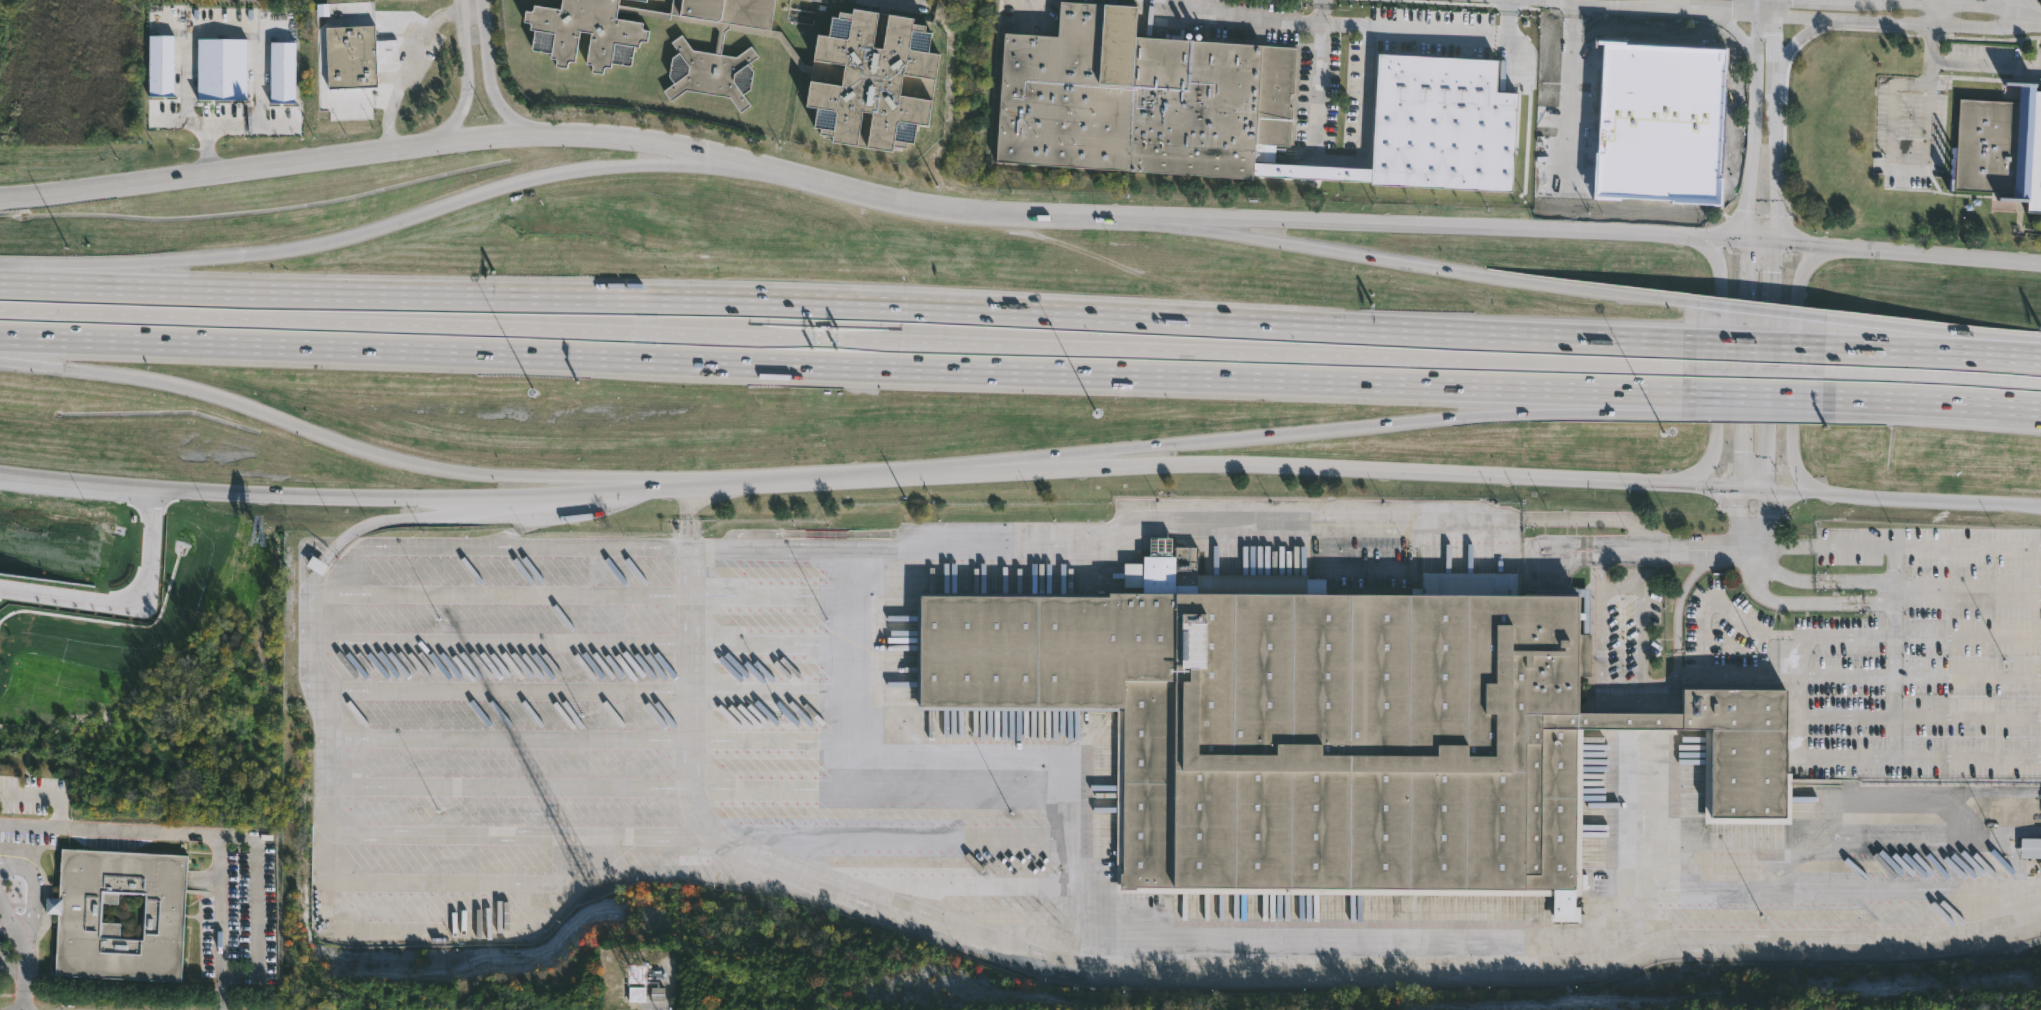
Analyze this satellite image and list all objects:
building: (822, 0)
road: (899, 0)
road: (1962, 3)
building: (161, 4)
road: (1774, 6)
road: (1670, 8)
road: (2023, 9)
road: (1320, 11)
road: (1934, 13)
road: (1255, 16)
road: (2032, 19)
road: (1899, 22)
road: (1735, 29)
road: (1456, 38)
road: (1804, 38)
building: (350, 55)
road: (1966, 63)
road: (481, 67)
building: (869, 78)
road: (185, 92)
building: (1233, 106)
road: (1754, 120)
road: (246, 122)
road: (581, 134)
building: (2000, 146)
road: (692, 159)
road: (1359, 163)
road: (1899, 165)
road: (1194, 226)
road: (1452, 228)
road: (367, 232)
traffic signals: (1746, 241)
road: (1760, 242)
traffic signals: (1775, 243)
road: (1813, 246)
road: (1774, 251)
road: (1946, 255)
road: (31, 270)
road: (1460, 271)
road: (845, 302)
road: (1757, 309)
road: (1891, 334)
toll booth: (827, 339)
road: (845, 339)
road: (1756, 344)
road: (1891, 349)
road: (2001, 354)
road: (5, 360)
road: (1743, 365)
road: (844, 366)
road: (1755, 369)
road: (1718, 374)
building: (1871, 375)
road: (1930, 376)
road: (1798, 377)
road: (1755, 395)
road: (1930, 402)
road: (1755, 405)
road: (285, 418)
road: (1383, 423)
road: (1043, 460)
road: (1327, 467)
road: (847, 476)
road: (604, 480)
road: (1704, 486)
traffic signals: (1740, 489)
traffic signals: (1764, 491)
road: (342, 498)
road: (1902, 499)
road: (687, 501)
road: (415, 518)
road: (1739, 518)
road: (1580, 519)
road: (1762, 520)
road: (696, 529)
road: (685, 531)
road: (1514, 537)
road: (1545, 543)
road: (515, 545)
road: (1692, 547)
road: (1895, 549)
road: (692, 552)
road: (1753, 559)
road: (318, 569)
road: (1823, 581)
road: (1813, 603)
road: (132, 607)
road: (1677, 609)
road: (1642, 619)
road: (1702, 630)
road: (1827, 636)
road: (1967, 636)
road: (1893, 653)
road: (1844, 676)
road: (1967, 677)
road: (1599, 682)
building: (1333, 731)
road: (1877, 758)
road: (957, 769)
road: (45, 791)
road: (395, 833)
road: (196, 834)
road: (1621, 849)
building: (2031, 849)
road: (0, 865)
road: (14, 867)
road: (826, 881)
road: (33, 902)
road: (256, 907)
building: (80, 915)
road: (8, 916)
road: (8, 931)
road: (8, 965)
road: (17, 971)
building: (637, 996)

